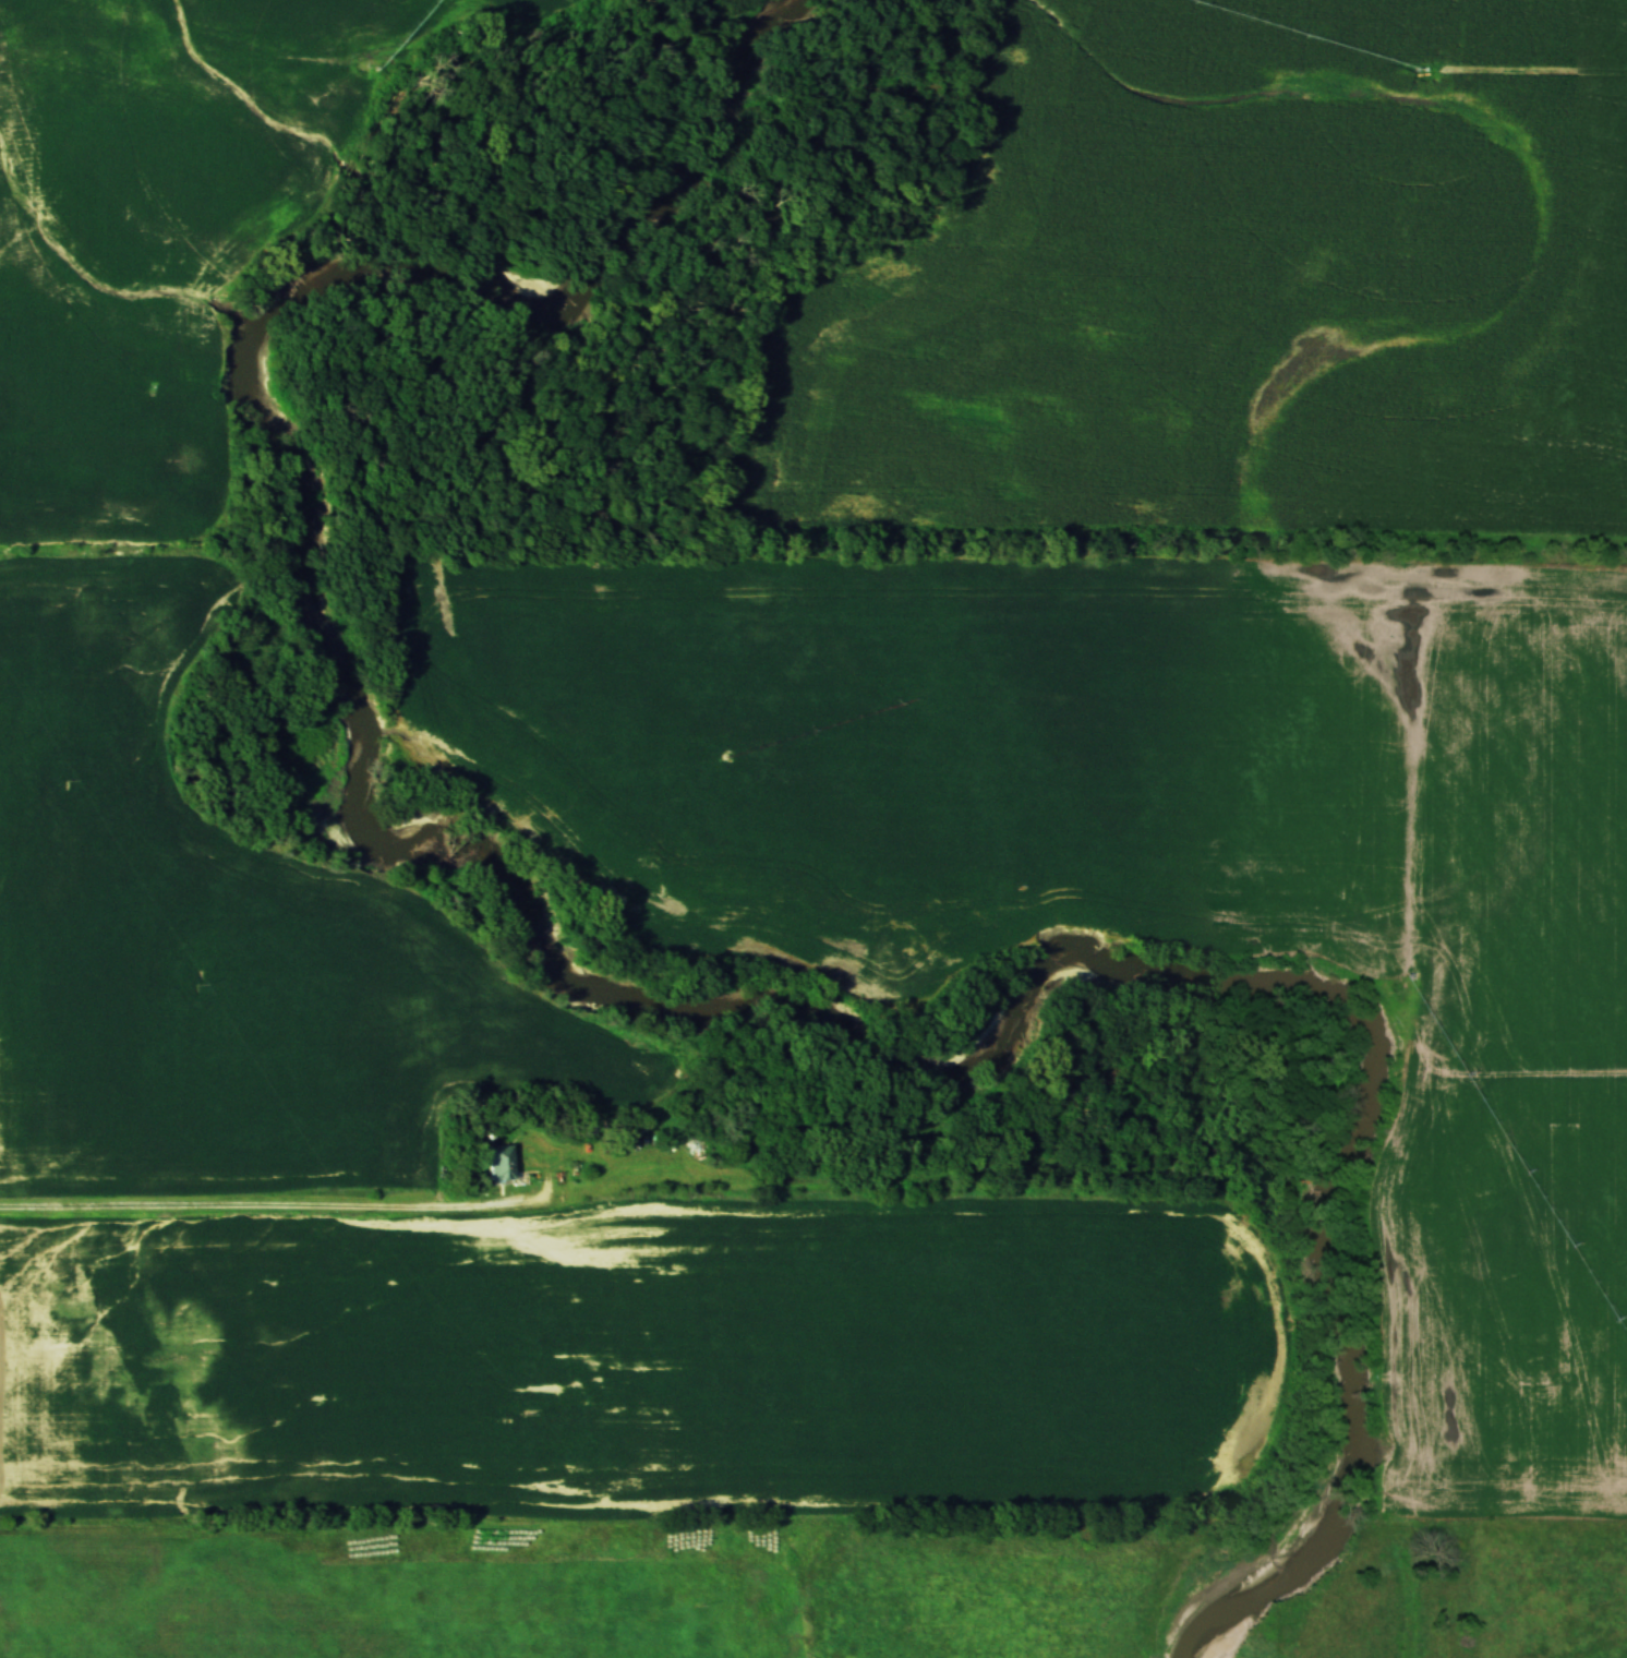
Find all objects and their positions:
building: (498, 1163)
road: (267, 1203)

